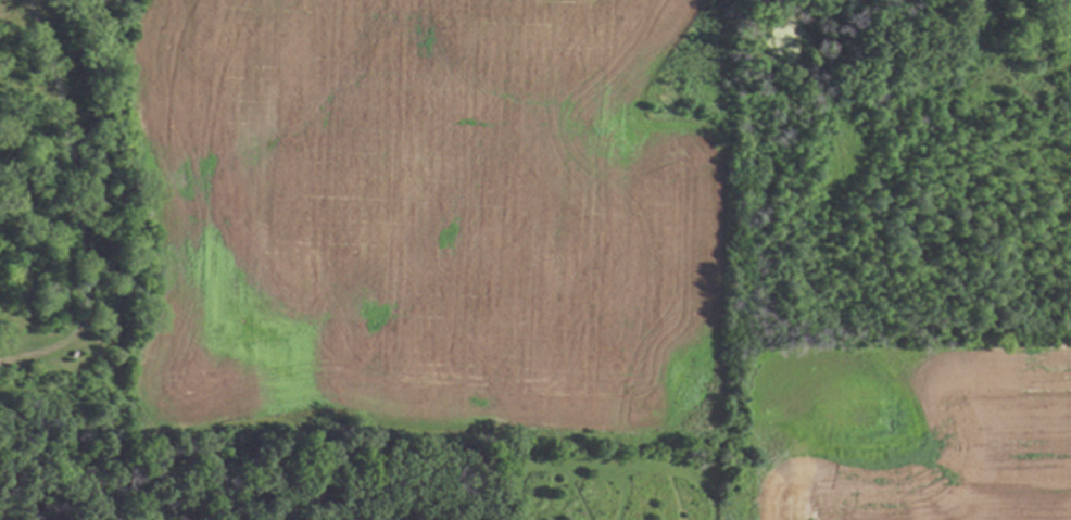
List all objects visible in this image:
crop: (424, 224)
crop: (907, 434)

